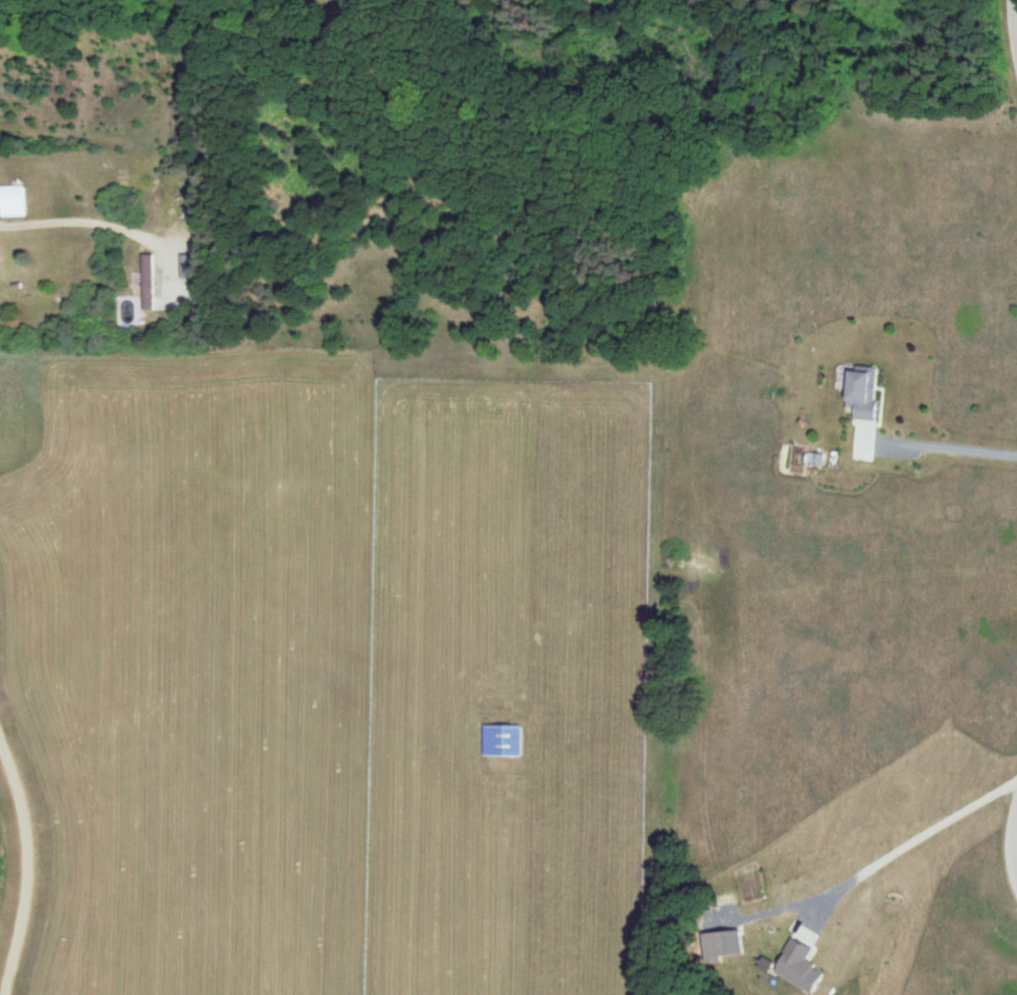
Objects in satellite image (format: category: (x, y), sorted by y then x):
road: (1014, 25)
building: (13, 202)
building: (866, 392)
building: (503, 741)
road: (1010, 846)
road: (30, 862)

